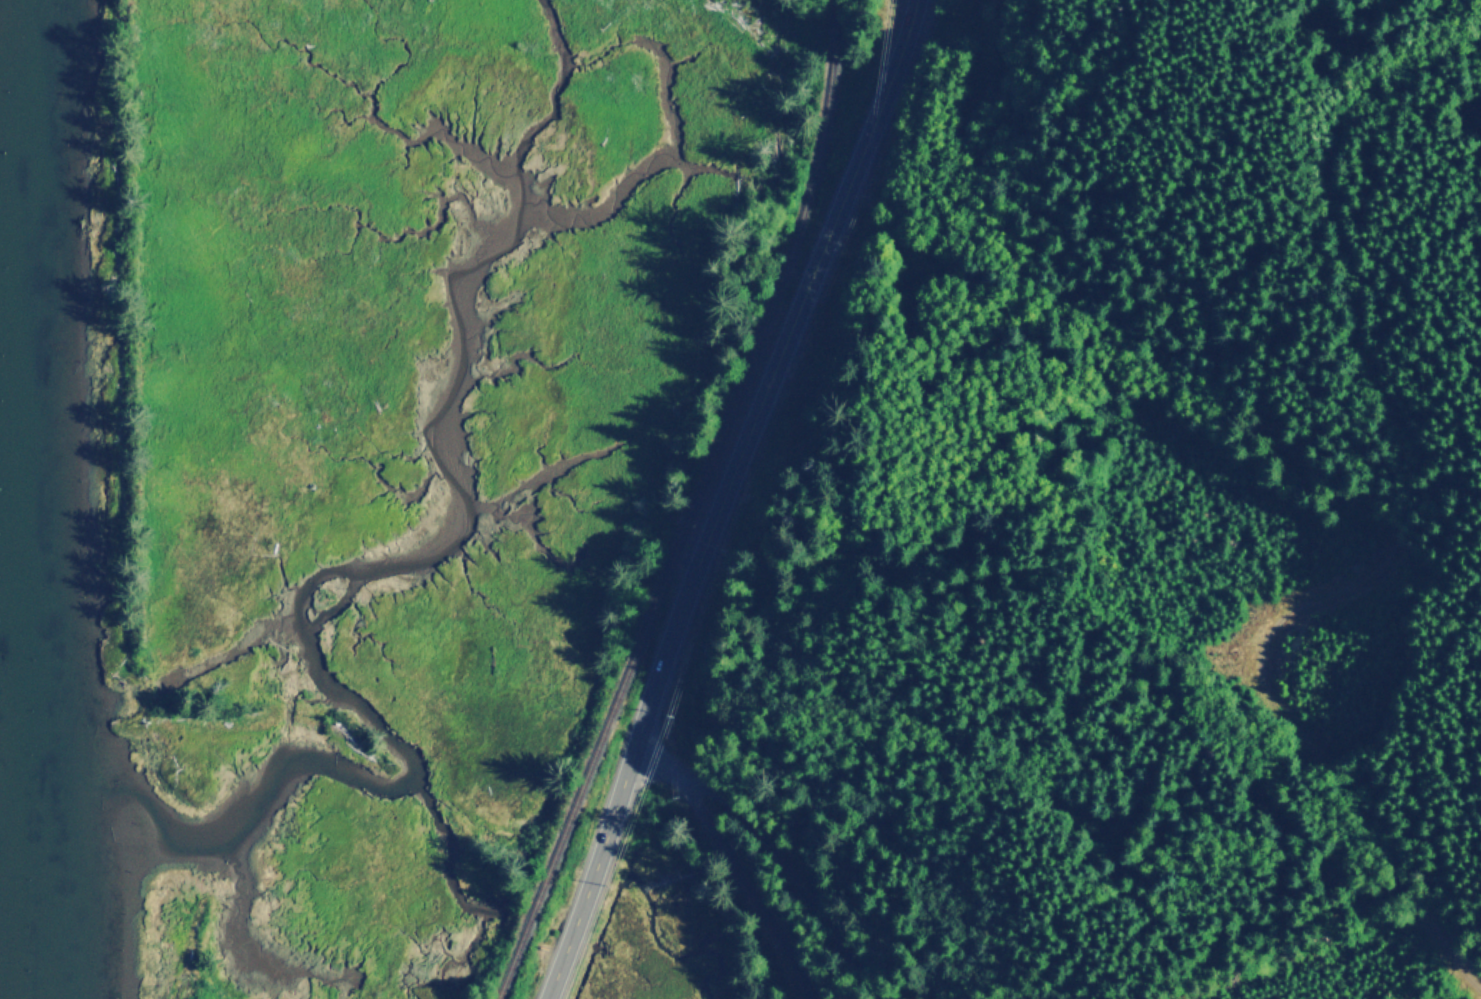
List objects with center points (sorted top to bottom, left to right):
road: (832, 218)
railway: (691, 505)
road: (1397, 522)
road: (646, 716)
road: (779, 863)
road: (726, 864)

